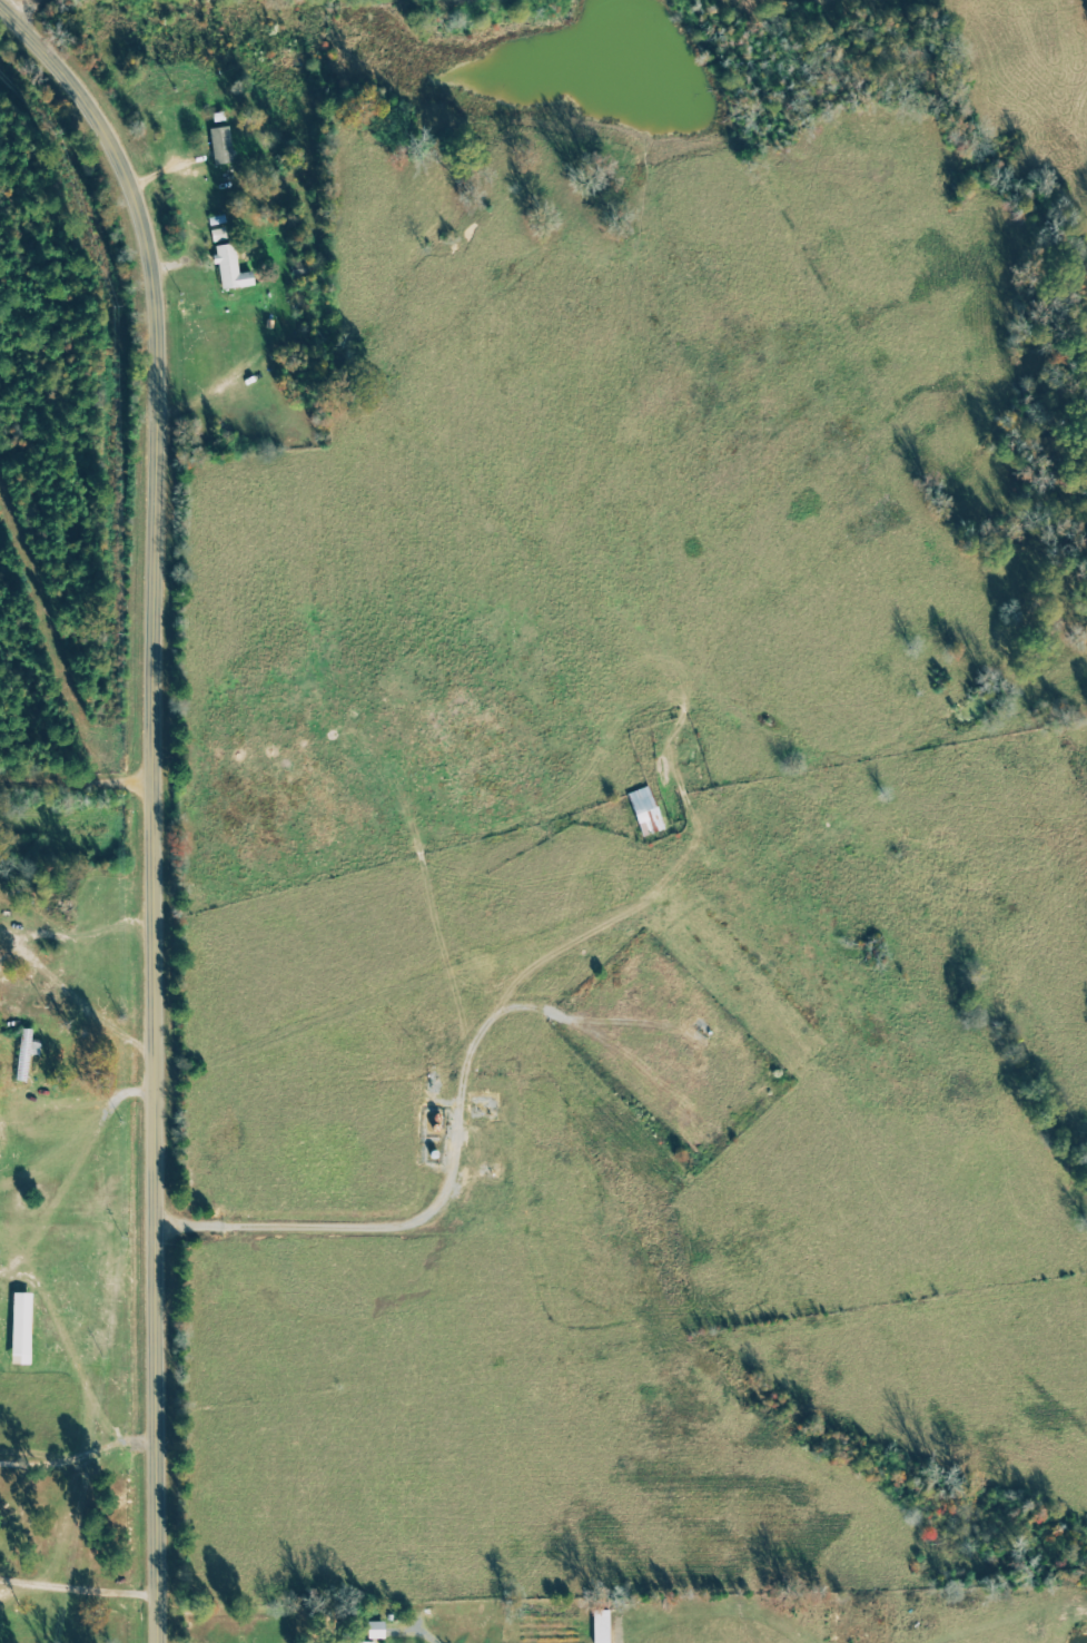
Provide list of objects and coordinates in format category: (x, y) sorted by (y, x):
road: (16, 6)
building: (221, 145)
building: (230, 268)
road: (149, 801)
building: (645, 811)
building: (20, 1328)
road: (77, 1457)
road: (77, 1588)
road: (418, 1627)
building: (375, 1630)
building: (353, 1642)

